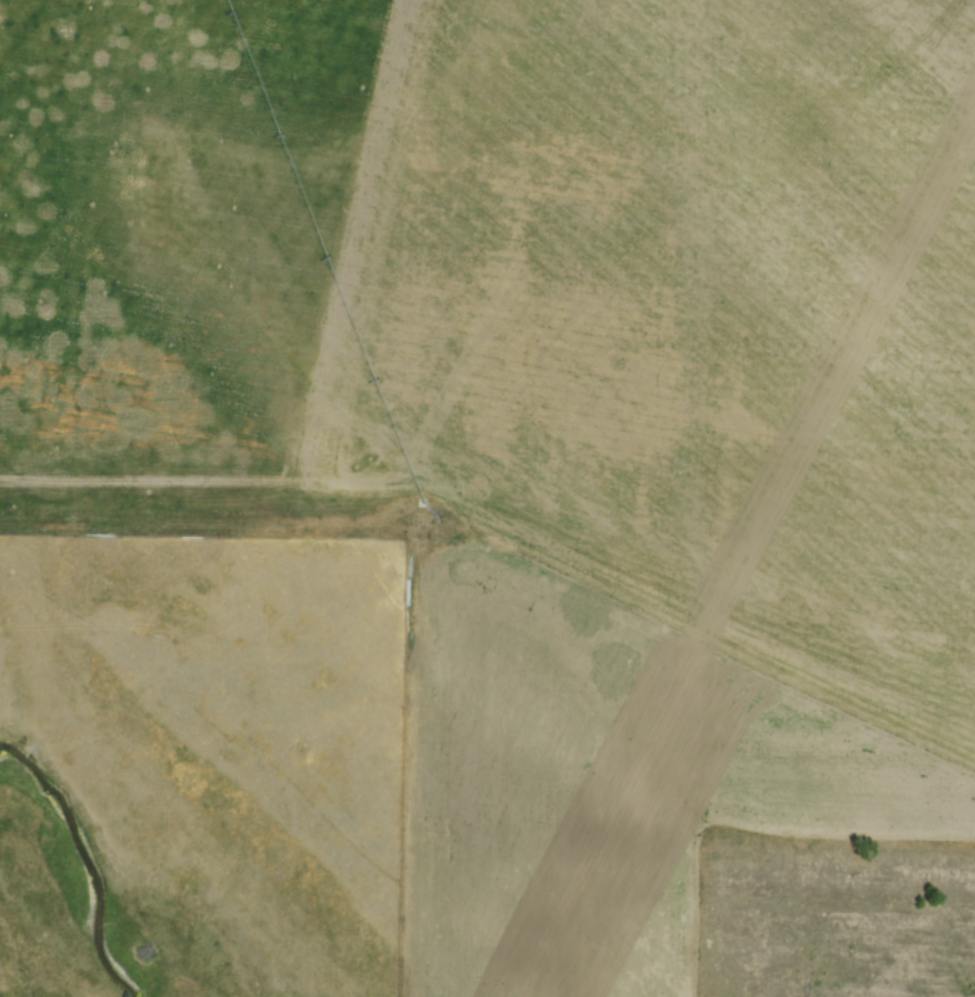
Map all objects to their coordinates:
crop: (539, 403)

